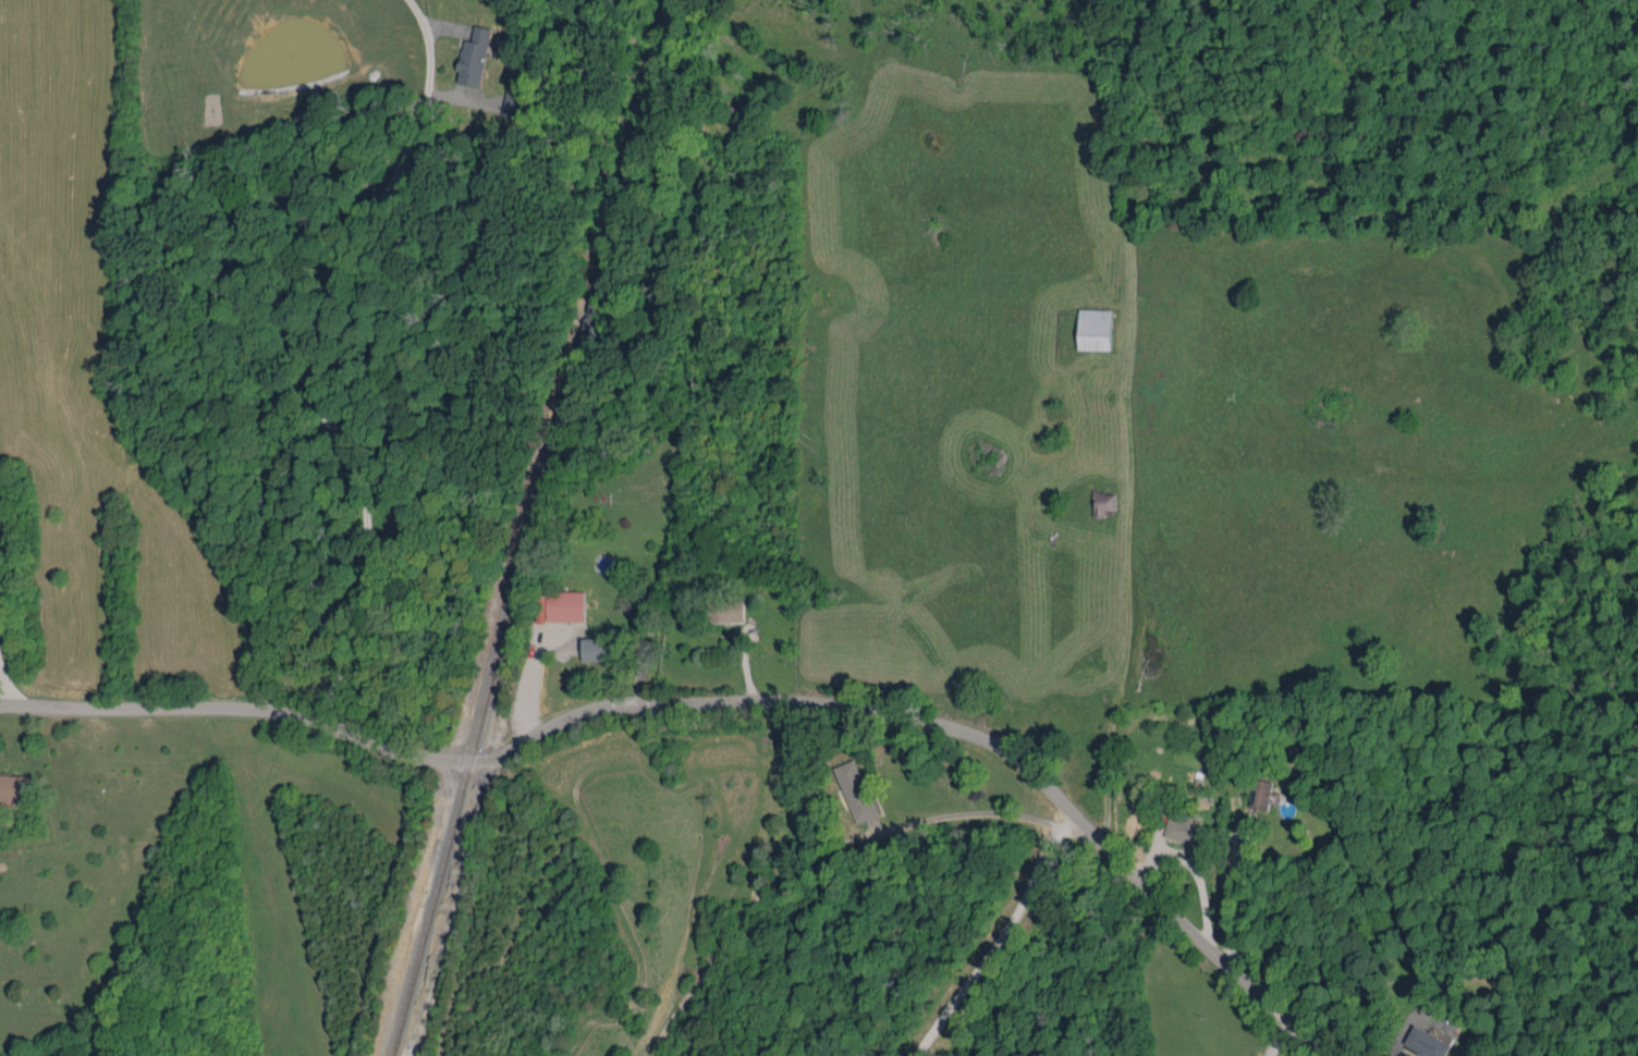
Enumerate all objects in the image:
building: (1095, 329)
road: (314, 357)
building: (1104, 503)
railway: (527, 526)
building: (561, 606)
building: (724, 612)
building: (598, 649)
road: (10, 678)
road: (722, 701)
building: (856, 790)
building: (1260, 794)
road: (962, 816)
building: (1183, 830)
road: (1227, 896)
road: (992, 935)
road: (1278, 1039)
building: (1427, 1042)

